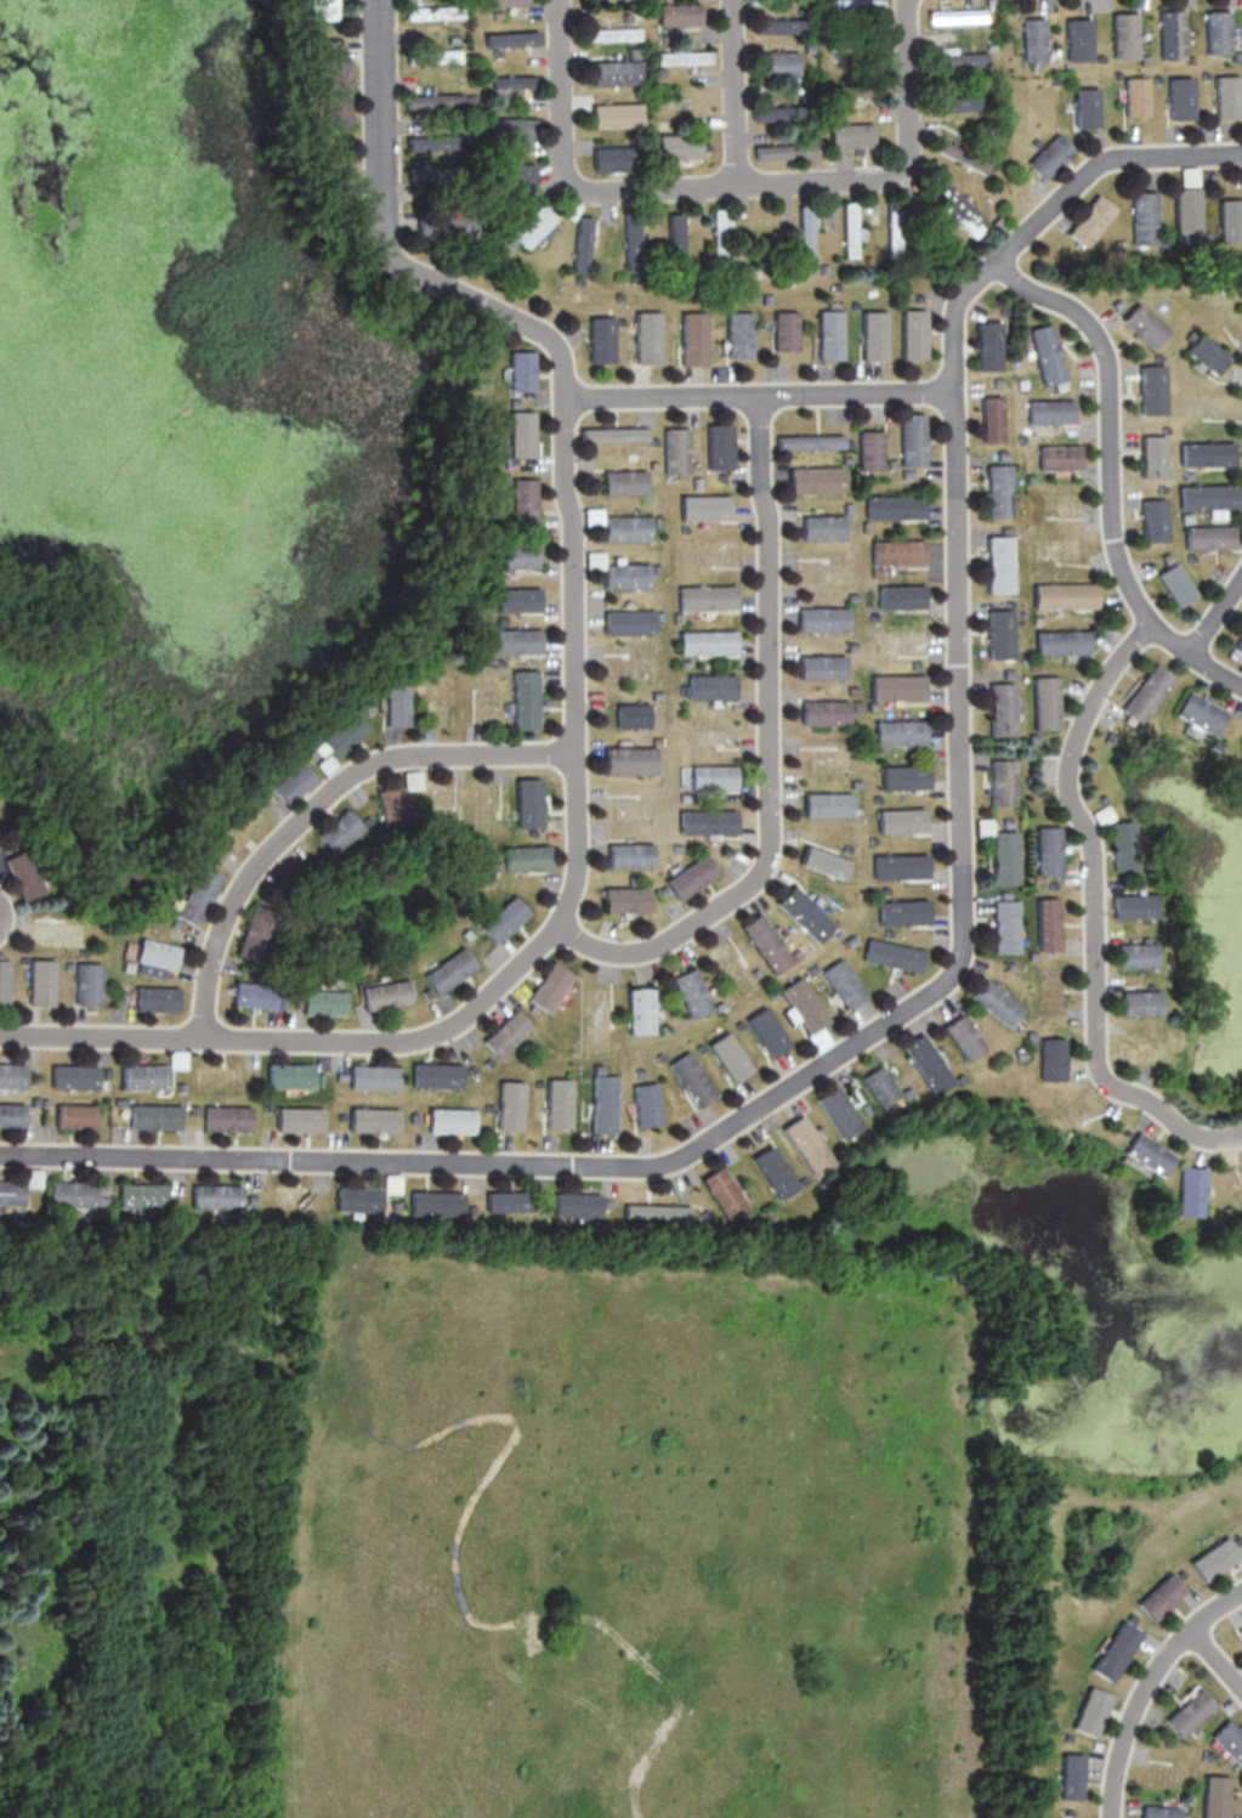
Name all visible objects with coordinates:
building: (507, 2)
building: (855, 5)
building: (323, 9)
building: (435, 12)
building: (677, 13)
building: (955, 15)
building: (777, 24)
building: (1218, 32)
building: (612, 34)
building: (1125, 34)
building: (1172, 34)
building: (511, 38)
building: (1033, 39)
building: (1078, 39)
building: (443, 56)
building: (681, 57)
building: (959, 61)
building: (779, 62)
building: (614, 72)
building: (512, 81)
building: (336, 84)
road: (735, 92)
building: (1136, 96)
building: (1227, 96)
building: (1180, 98)
building: (435, 101)
building: (959, 103)
building: (1087, 107)
building: (771, 113)
building: (617, 114)
building: (512, 128)
building: (850, 135)
building: (436, 142)
building: (676, 146)
building: (786, 151)
building: (958, 154)
building: (1050, 155)
building: (611, 158)
building: (1190, 174)
building: (517, 175)
road: (726, 186)
building: (959, 209)
building: (1189, 214)
building: (1146, 217)
building: (1091, 220)
building: (1231, 220)
building: (448, 226)
building: (532, 226)
building: (850, 230)
building: (719, 231)
building: (892, 232)
building: (804, 234)
building: (630, 236)
building: (674, 239)
building: (580, 244)
building: (1146, 324)
building: (784, 330)
building: (738, 334)
building: (829, 334)
building: (913, 334)
building: (873, 335)
building: (646, 338)
building: (692, 338)
building: (600, 339)
building: (989, 345)
building: (1048, 353)
building: (1207, 353)
building: (521, 370)
building: (1153, 389)
road: (759, 396)
building: (1050, 410)
building: (992, 419)
building: (521, 434)
building: (613, 434)
building: (912, 440)
building: (810, 441)
building: (719, 446)
building: (870, 449)
building: (676, 451)
building: (1208, 453)
building: (1155, 455)
building: (1060, 457)
road: (1108, 472)
building: (815, 478)
building: (625, 482)
building: (998, 491)
building: (1209, 498)
building: (523, 502)
building: (704, 506)
building: (894, 506)
building: (592, 516)
building: (1155, 520)
building: (823, 527)
building: (626, 528)
building: (1209, 537)
building: (897, 551)
building: (520, 555)
building: (999, 563)
building: (626, 576)
building: (1176, 584)
building: (1065, 595)
building: (902, 596)
building: (707, 597)
building: (518, 599)
road: (1215, 613)
building: (824, 618)
building: (630, 622)
building: (999, 634)
building: (515, 641)
building: (708, 641)
building: (1062, 641)
building: (1237, 645)
building: (824, 667)
building: (711, 686)
building: (898, 686)
building: (1146, 692)
building: (524, 698)
building: (1045, 702)
building: (396, 703)
building: (1002, 708)
road: (572, 712)
building: (827, 712)
building: (1201, 713)
building: (634, 714)
building: (901, 732)
building: (341, 735)
road: (770, 754)
building: (631, 759)
building: (715, 776)
building: (906, 776)
building: (412, 778)
building: (290, 782)
building: (1003, 782)
building: (528, 802)
building: (391, 804)
building: (829, 804)
road: (316, 805)
building: (902, 820)
building: (709, 821)
building: (339, 829)
building: (1122, 845)
building: (1048, 850)
building: (631, 855)
building: (1004, 856)
building: (526, 857)
building: (826, 861)
building: (901, 866)
building: (24, 874)
building: (693, 877)
building: (197, 895)
building: (628, 899)
building: (1133, 905)
building: (903, 911)
building: (806, 913)
road: (1093, 914)
building: (504, 918)
building: (1047, 923)
building: (1005, 925)
building: (767, 942)
building: (894, 955)
building: (1136, 955)
building: (154, 957)
building: (449, 970)
road: (952, 972)
building: (4, 981)
building: (41, 982)
building: (843, 982)
building: (87, 984)
building: (550, 986)
building: (692, 992)
building: (385, 993)
building: (257, 995)
building: (155, 998)
building: (996, 1001)
building: (322, 1002)
building: (1140, 1002)
building: (803, 1006)
building: (641, 1009)
building: (767, 1031)
building: (507, 1032)
building: (963, 1037)
building: (730, 1057)
building: (1051, 1059)
building: (926, 1063)
building: (12, 1074)
building: (74, 1075)
building: (144, 1075)
building: (289, 1075)
building: (436, 1075)
building: (373, 1077)
building: (692, 1078)
building: (880, 1086)
building: (558, 1103)
building: (603, 1103)
building: (647, 1104)
building: (510, 1105)
building: (840, 1111)
building: (12, 1112)
building: (75, 1114)
building: (154, 1114)
building: (226, 1117)
building: (297, 1118)
building: (373, 1118)
building: (452, 1120)
building: (809, 1145)
building: (1149, 1154)
building: (775, 1172)
building: (33, 1177)
building: (11, 1190)
building: (67, 1190)
building: (1191, 1191)
building: (725, 1193)
building: (141, 1195)
building: (216, 1196)
building: (359, 1199)
building: (507, 1200)
building: (437, 1202)
building: (578, 1205)
building: (658, 1212)
building: (1237, 1540)
building: (1215, 1558)
building: (1180, 1574)
building: (1161, 1595)
building: (1129, 1618)
building: (1241, 1630)
building: (1112, 1650)
road: (1214, 1659)
road: (1139, 1683)
building: (1087, 1711)
building: (1186, 1711)
building: (1192, 1731)
building: (1062, 1737)
building: (1229, 1740)
building: (1204, 1755)
building: (1066, 1775)
building: (1215, 1796)
building: (1158, 1811)
building: (1064, 1812)

